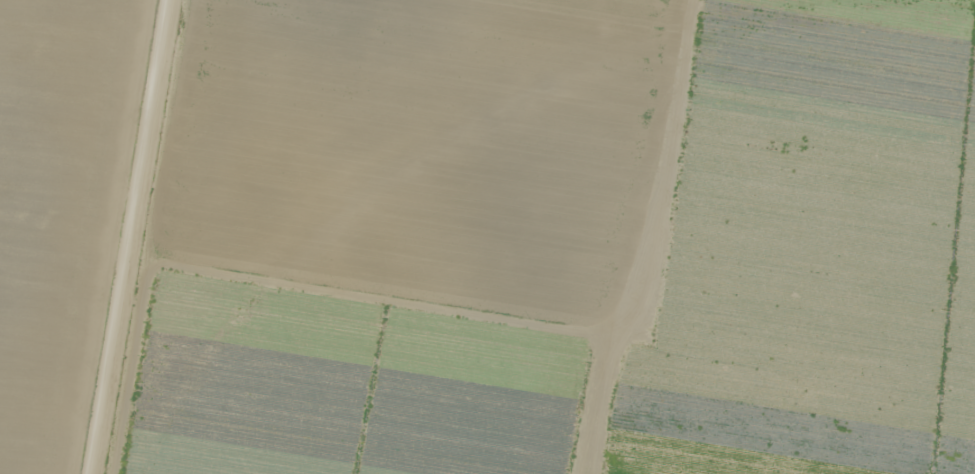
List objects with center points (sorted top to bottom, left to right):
road: (897, 12)
road: (131, 237)

